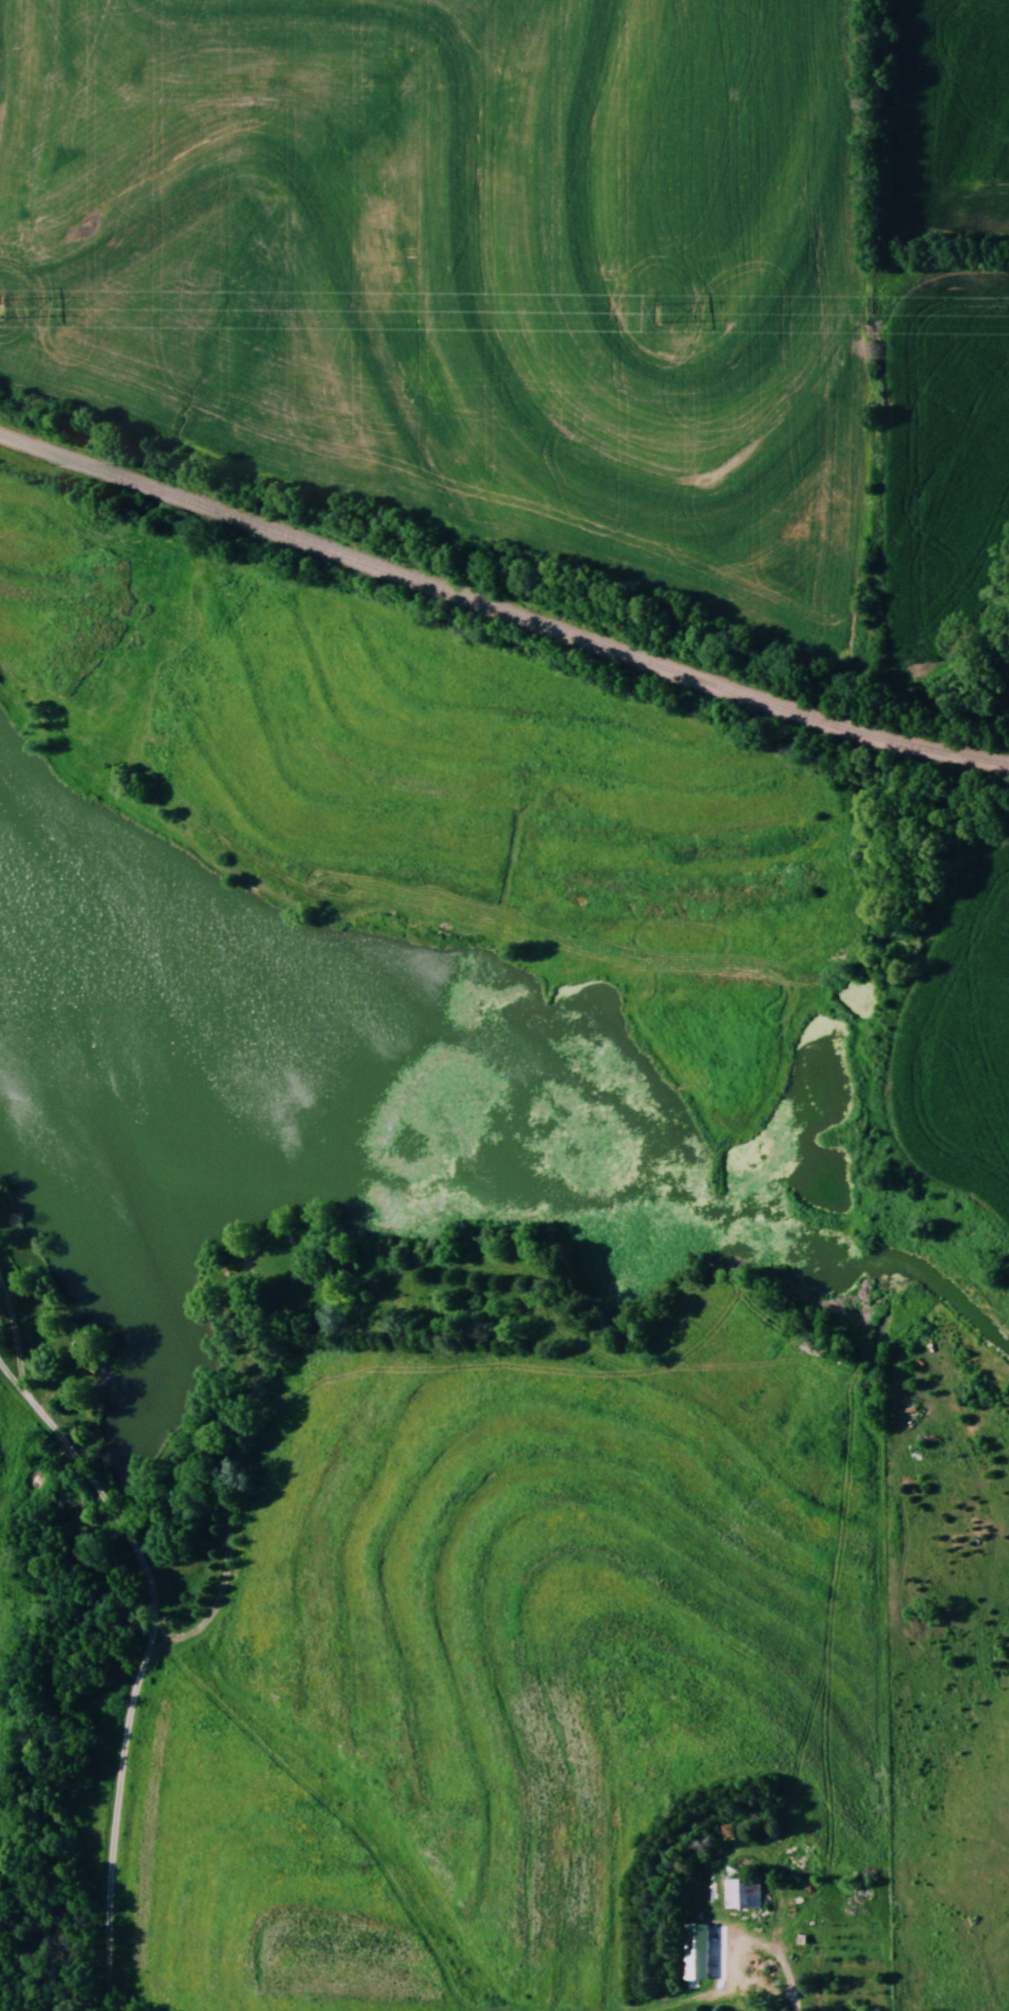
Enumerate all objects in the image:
power tower: (656, 310)
railway: (501, 608)
building: (742, 1892)
road: (784, 1960)

